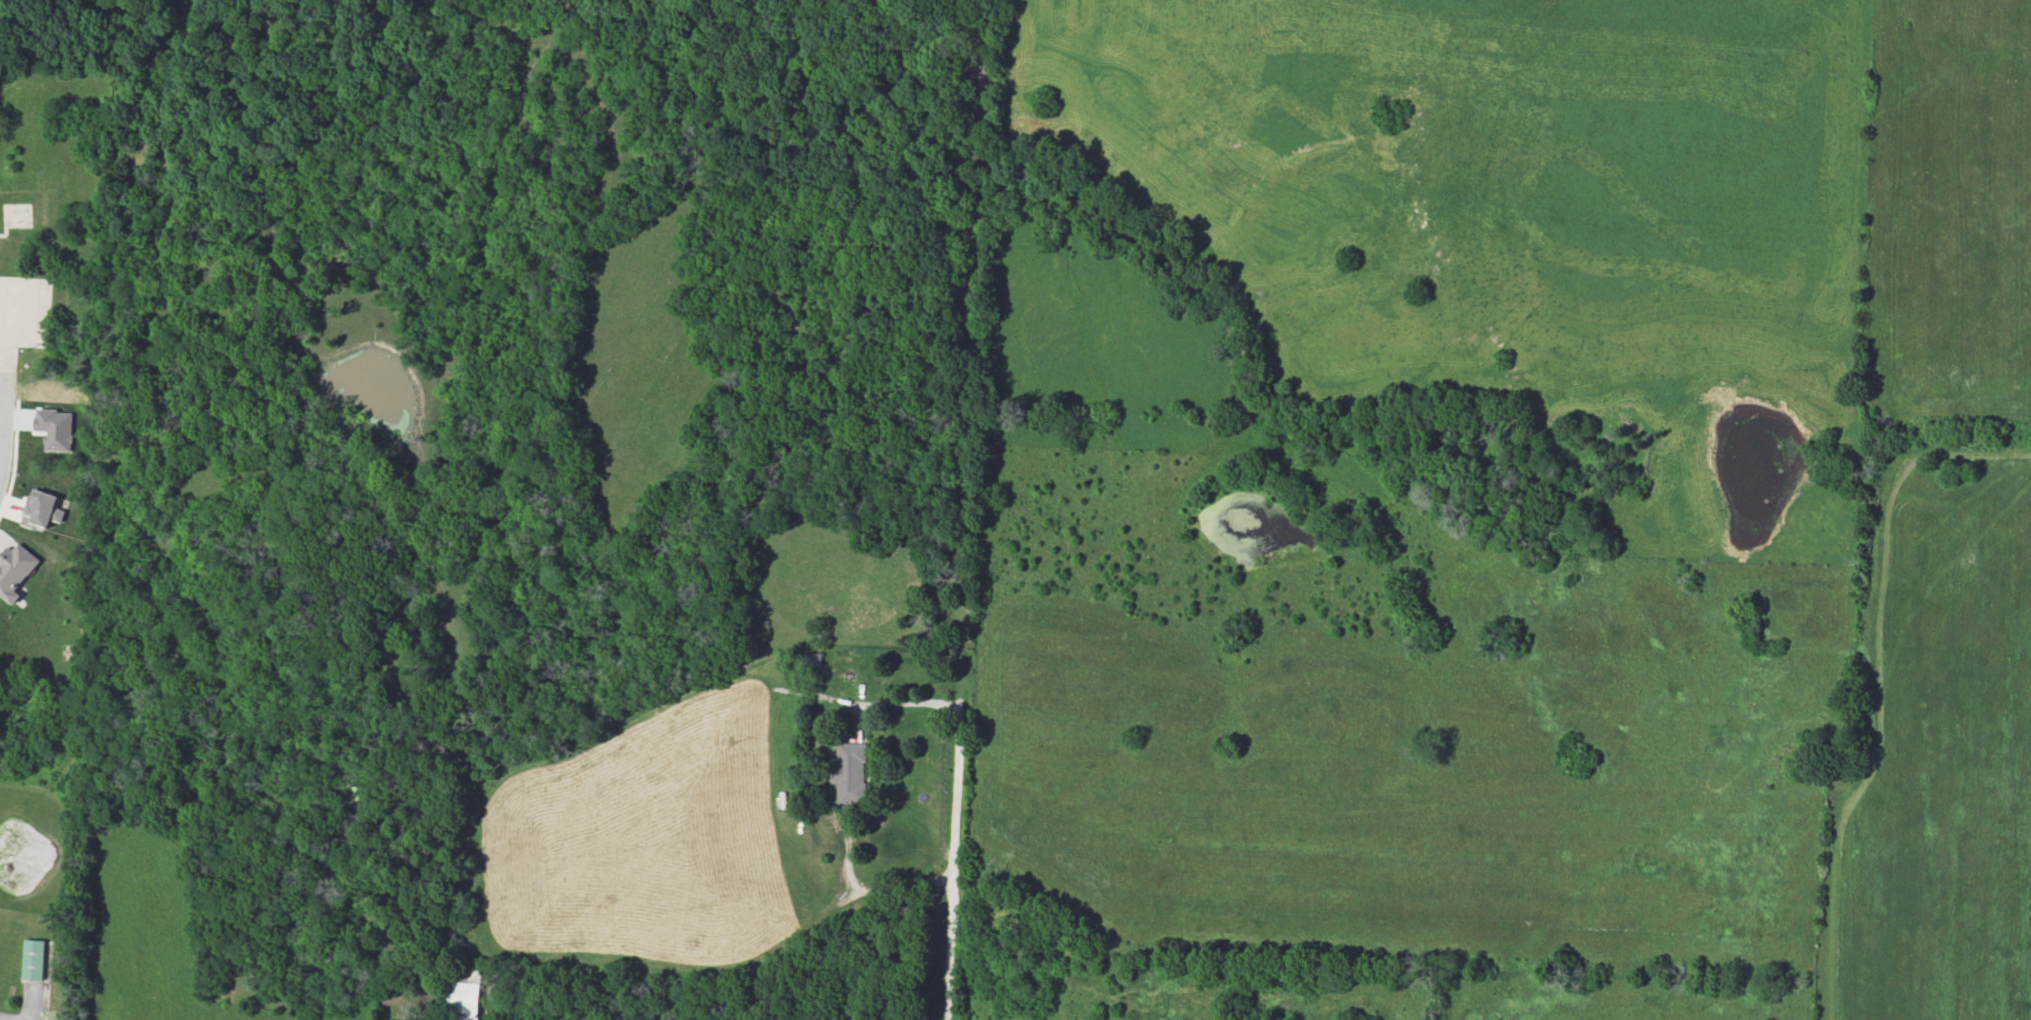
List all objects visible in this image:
park: (51, 181)
road: (3, 232)
road: (5, 398)
building: (17, 571)
road: (855, 724)
building: (850, 774)
road: (847, 851)
road: (953, 865)
road: (475, 867)
building: (35, 961)
building: (466, 990)

